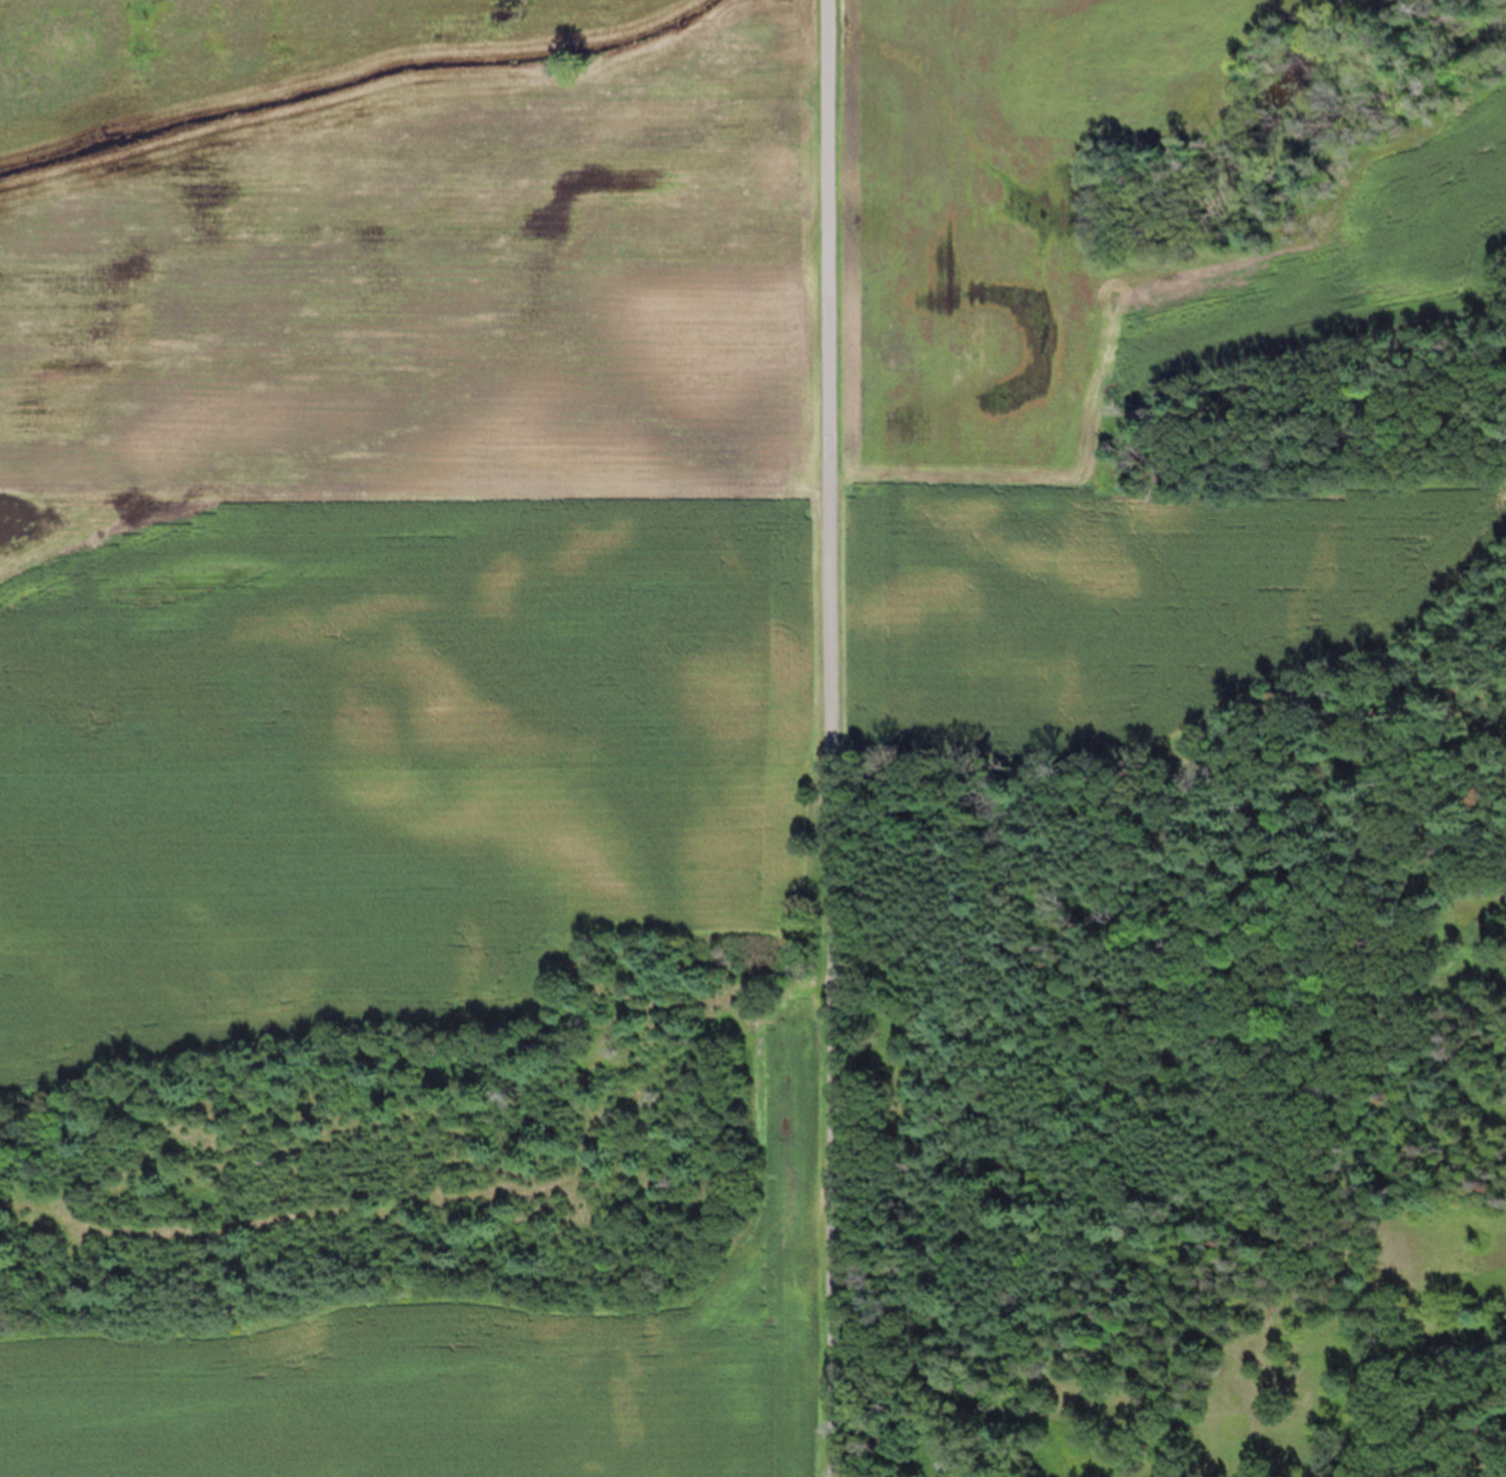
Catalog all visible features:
road: (831, 738)

